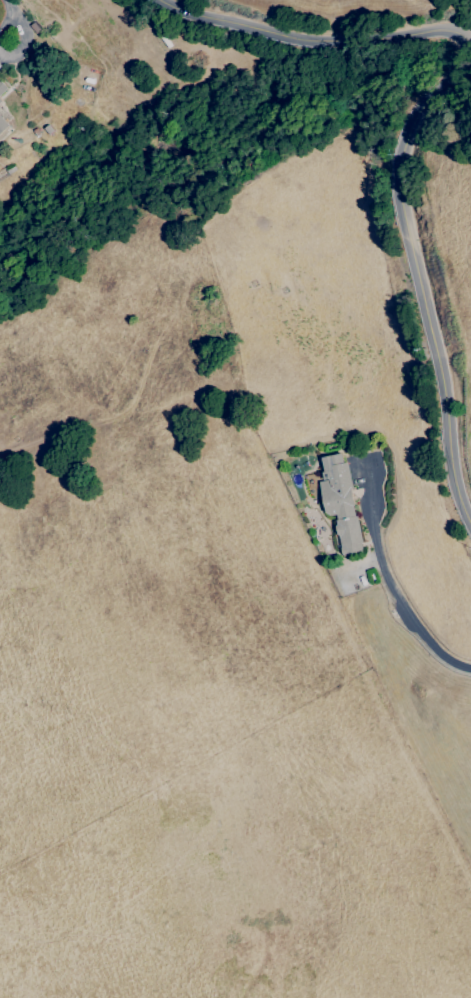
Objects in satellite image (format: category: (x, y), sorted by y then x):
road: (7, 5)
road: (25, 30)
building: (2, 88)
building: (0, 102)
road: (410, 122)
building: (2, 126)
building: (340, 503)
road: (390, 585)

